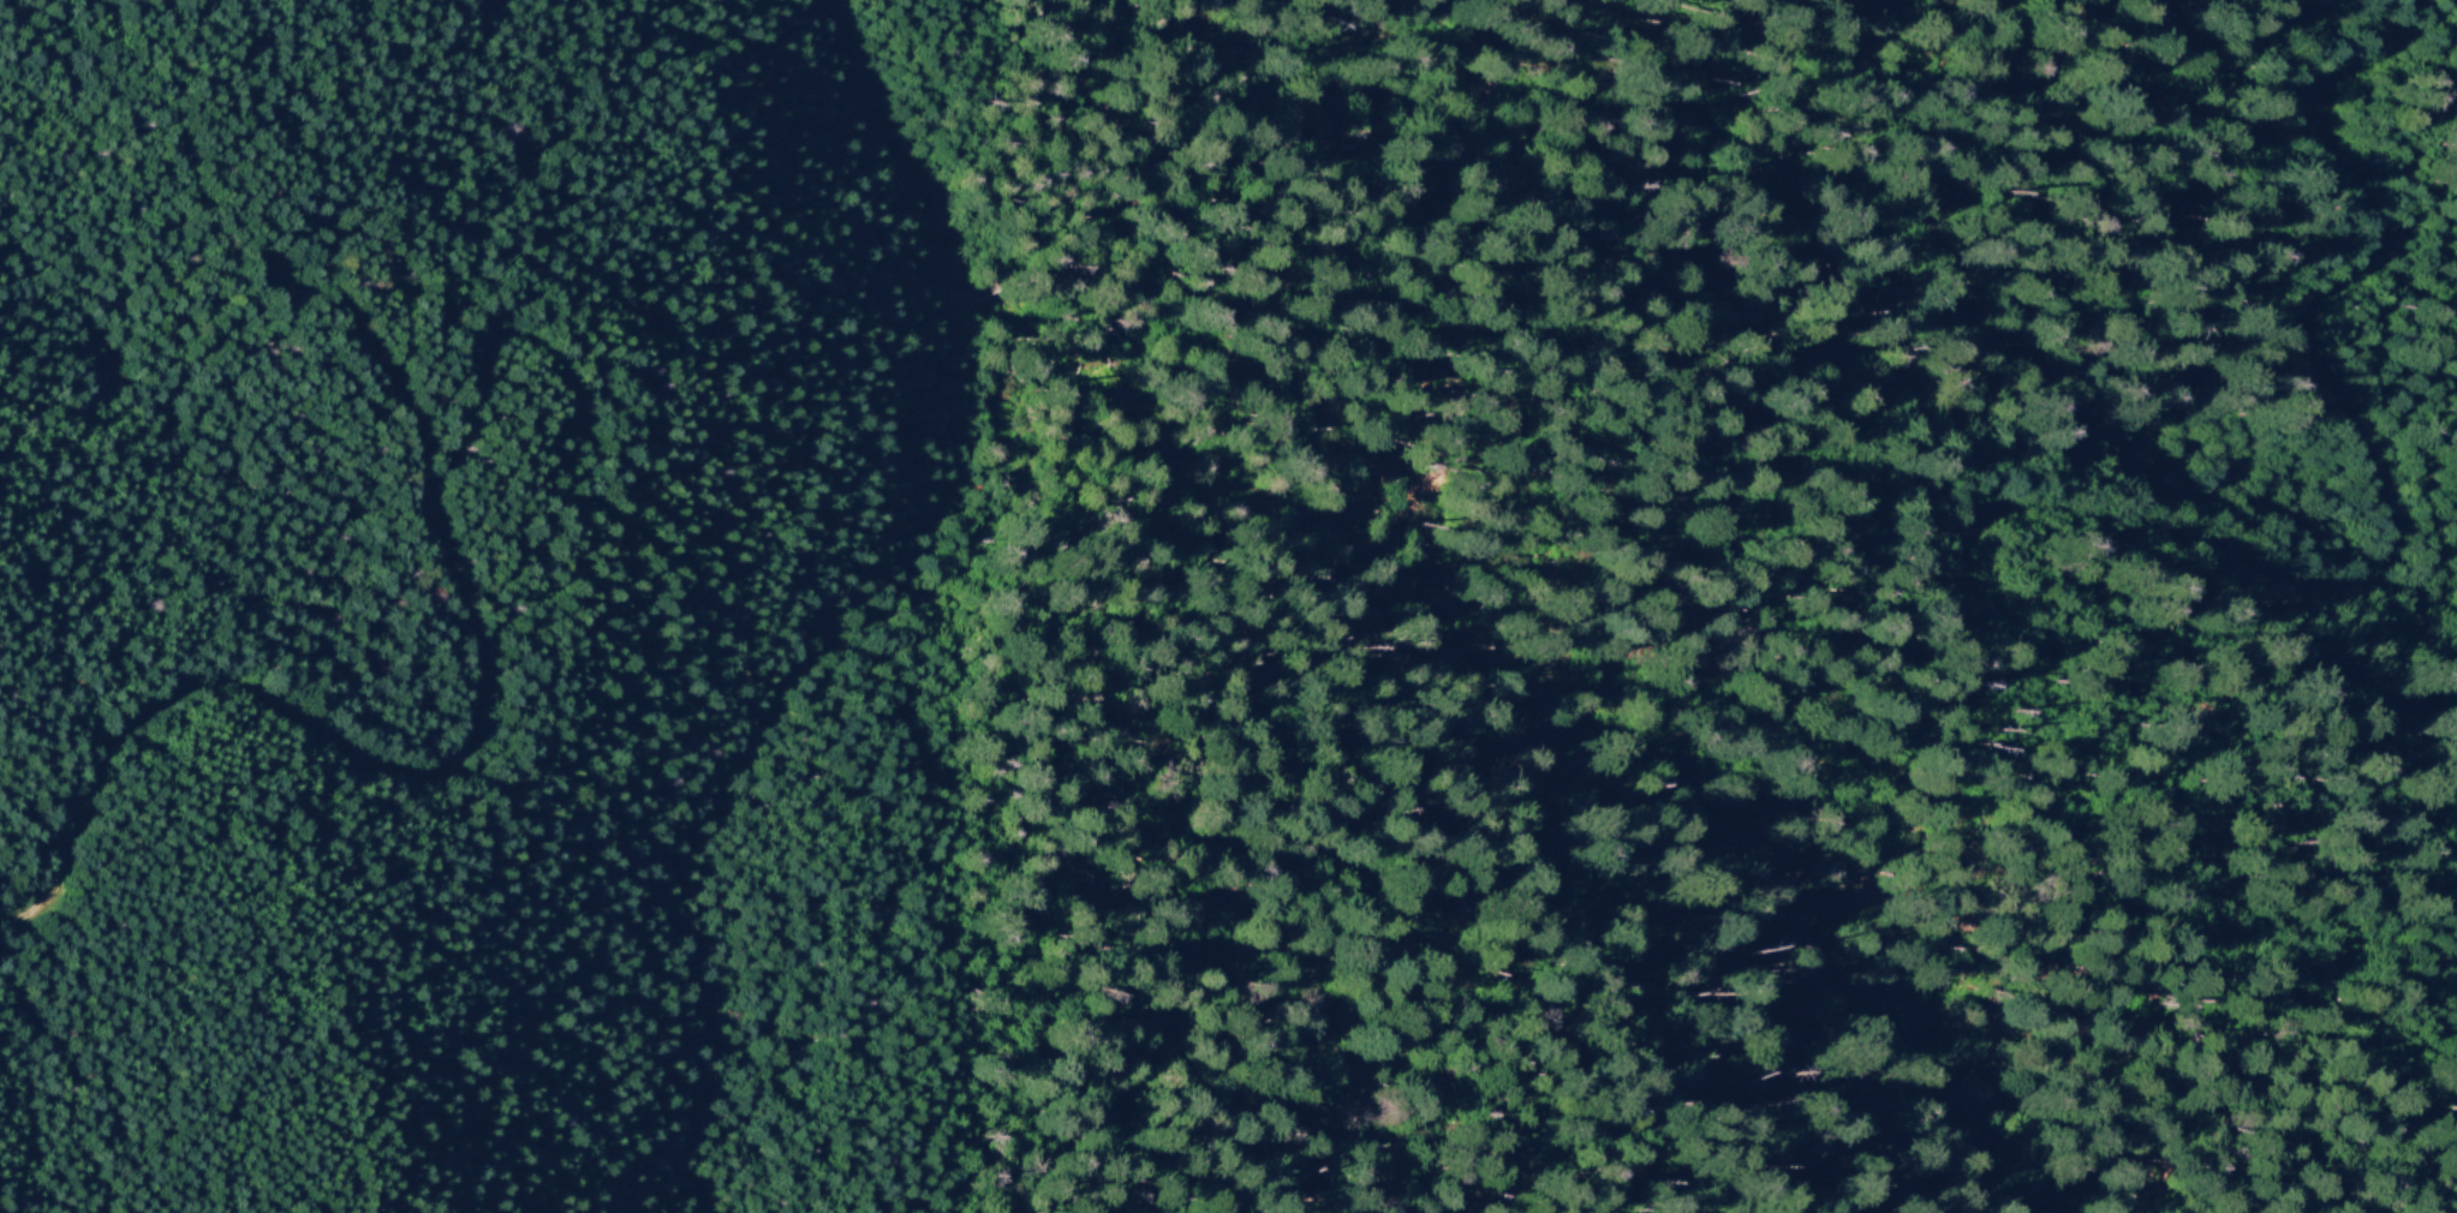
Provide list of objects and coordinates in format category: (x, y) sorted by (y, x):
road: (2049, 520)
road: (269, 805)

